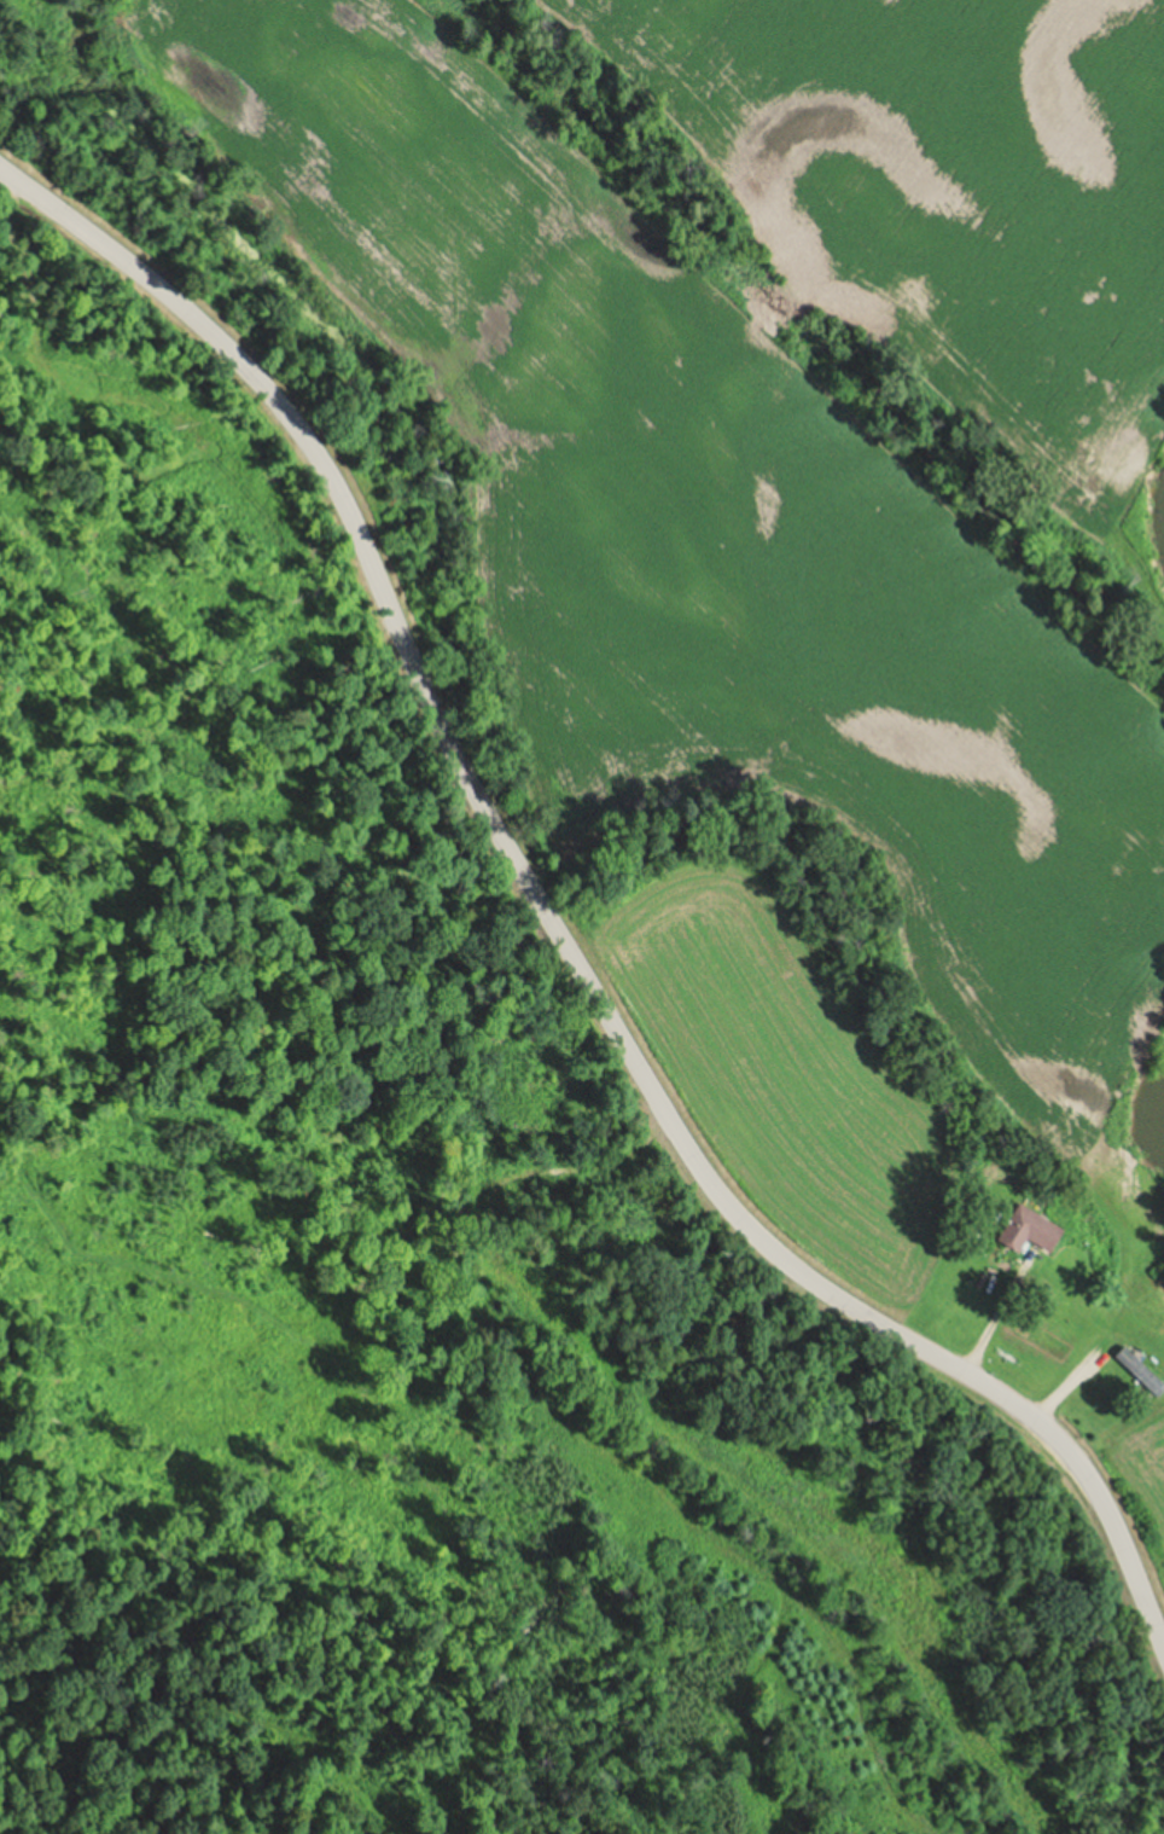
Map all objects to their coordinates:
road: (555, 929)
building: (1025, 1229)
building: (1137, 1371)

